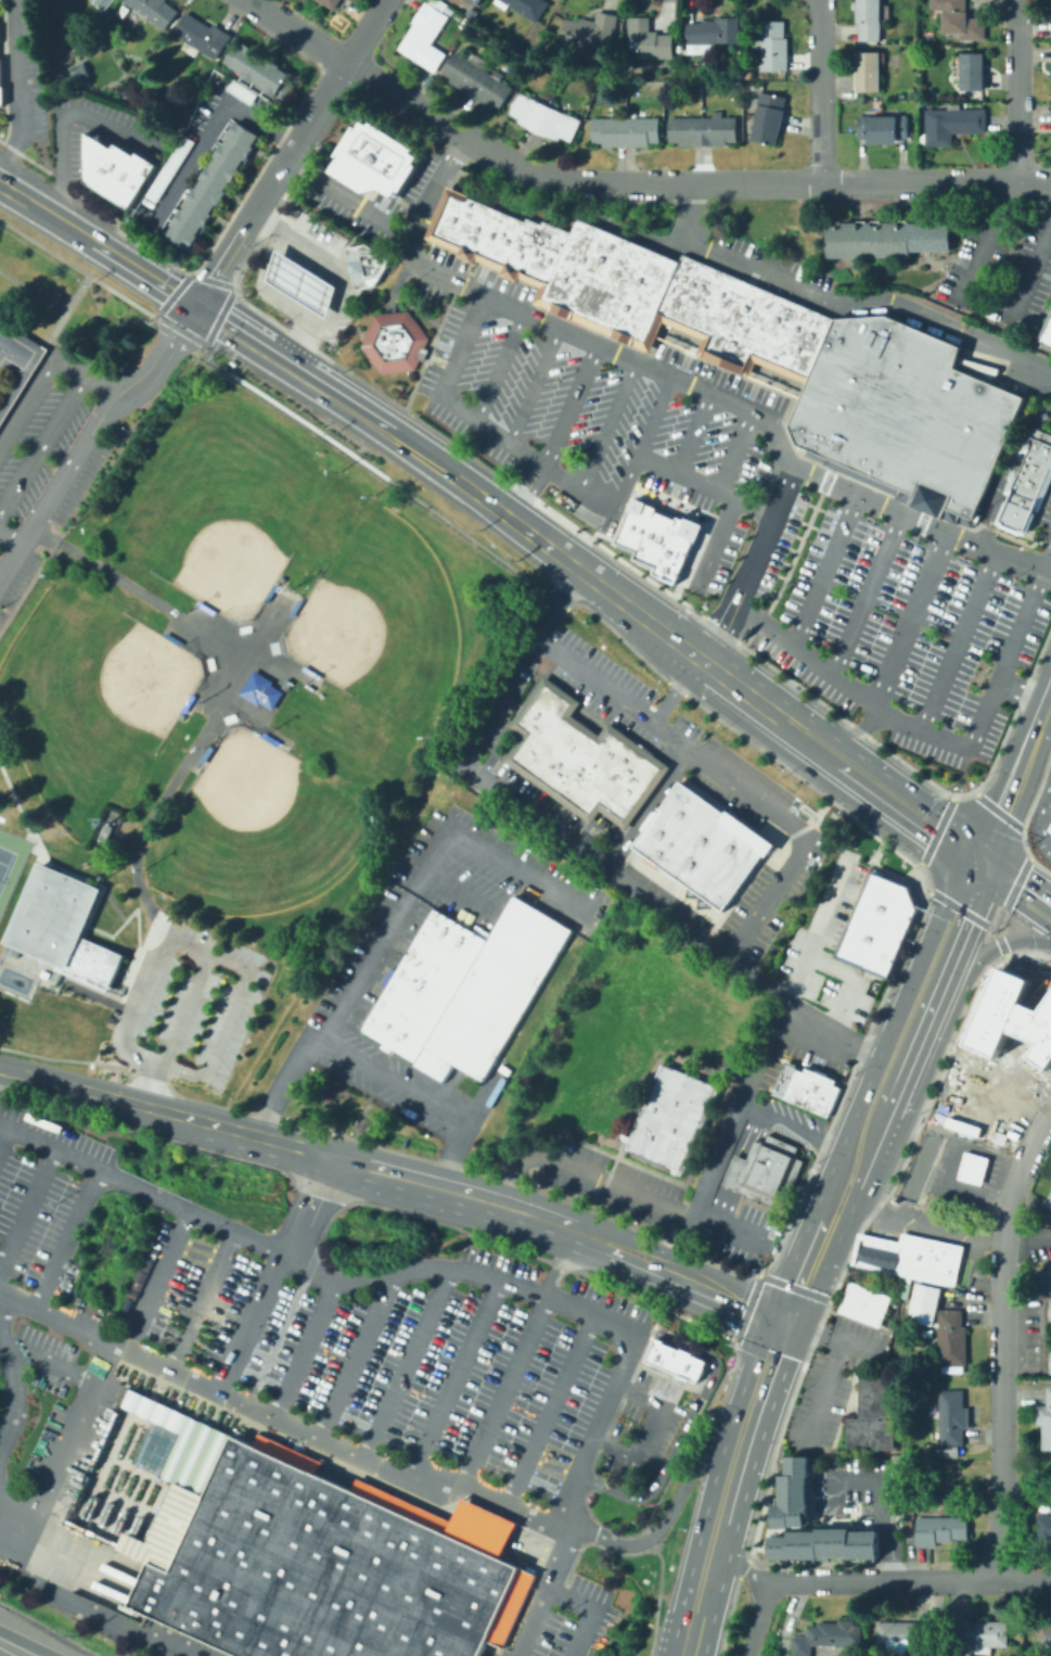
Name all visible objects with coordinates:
building: (112, 0)
building: (478, 1)
building: (101, 2)
building: (333, 3)
building: (528, 7)
building: (151, 10)
building: (1050, 18)
building: (871, 21)
building: (963, 22)
road: (296, 29)
road: (364, 29)
building: (593, 31)
building: (716, 31)
building: (200, 36)
building: (427, 36)
building: (651, 40)
building: (776, 47)
parking lot: (25, 68)
building: (259, 69)
building: (76, 71)
building: (869, 72)
building: (975, 72)
building: (1050, 76)
building: (479, 80)
road: (17, 84)
building: (240, 89)
road: (819, 90)
road: (1016, 90)
building: (1, 92)
road: (59, 113)
building: (546, 116)
building: (1050, 118)
building: (770, 119)
building: (954, 126)
building: (884, 129)
building: (629, 131)
building: (704, 131)
road: (208, 132)
parking lot: (146, 144)
building: (372, 156)
road: (513, 164)
building: (168, 167)
building: (115, 169)
road: (879, 181)
road: (271, 183)
building: (210, 184)
road: (5, 188)
road: (347, 198)
building: (445, 215)
road: (51, 217)
building: (461, 221)
building: (474, 230)
building: (490, 234)
building: (884, 237)
building: (505, 240)
road: (664, 245)
building: (520, 247)
building: (537, 250)
building: (552, 254)
building: (364, 263)
road: (282, 266)
parking lot: (1001, 267)
building: (568, 268)
parking lot: (771, 270)
road: (144, 275)
road: (90, 276)
building: (300, 280)
gas station: (300, 280)
road: (306, 282)
building: (677, 286)
building: (624, 289)
road: (31, 290)
building: (694, 295)
building: (713, 302)
road: (841, 305)
traffic signals: (197, 307)
road: (64, 309)
road: (332, 319)
building: (738, 324)
building: (773, 328)
building: (1047, 331)
road: (302, 337)
building: (793, 337)
building: (392, 340)
road: (274, 343)
building: (810, 344)
building: (13, 348)
road: (264, 361)
road: (47, 362)
road: (13, 366)
road: (499, 366)
building: (21, 369)
road: (21, 379)
road: (680, 380)
road: (533, 385)
building: (903, 413)
road: (367, 417)
road: (479, 424)
road: (603, 426)
road: (693, 429)
road: (555, 432)
road: (90, 434)
road: (639, 444)
road: (43, 445)
road: (733, 446)
road: (436, 466)
road: (1008, 470)
parking lot: (43, 474)
road: (707, 479)
building: (1026, 482)
parking lot: (732, 496)
park: (218, 514)
building: (637, 517)
road: (11, 535)
building: (663, 535)
road: (764, 537)
road: (728, 540)
building: (688, 546)
road: (794, 555)
road: (574, 566)
road: (822, 571)
building: (278, 577)
building: (268, 591)
road: (864, 595)
building: (203, 607)
building: (293, 607)
road: (907, 619)
park: (380, 620)
road: (717, 633)
building: (169, 637)
road: (958, 640)
road: (691, 651)
building: (309, 671)
building: (284, 683)
building: (258, 688)
road: (226, 689)
road: (676, 689)
road: (743, 690)
road: (1024, 691)
road: (779, 696)
park: (88, 700)
building: (185, 702)
building: (178, 715)
building: (538, 718)
road: (861, 729)
road: (936, 736)
building: (269, 738)
road: (800, 746)
building: (552, 747)
building: (203, 753)
building: (571, 761)
road: (1017, 764)
building: (594, 765)
road: (882, 772)
road: (726, 774)
building: (624, 785)
road: (1050, 787)
parking lot: (744, 790)
road: (962, 793)
road: (648, 806)
road: (997, 808)
road: (20, 811)
road: (534, 813)
road: (897, 816)
road: (1039, 817)
parking lot: (1042, 821)
building: (1049, 826)
building: (1050, 829)
park: (256, 830)
road: (935, 830)
road: (26, 836)
road: (1023, 842)
building: (701, 843)
traffic signals: (984, 845)
park: (4, 861)
traffic signals: (960, 863)
road: (984, 863)
road: (1040, 864)
road: (1016, 870)
road: (972, 871)
road: (89, 879)
traffic signals: (984, 880)
road: (1015, 881)
road: (1016, 904)
road: (953, 905)
road: (136, 910)
road: (394, 910)
road: (997, 917)
building: (876, 923)
road: (963, 925)
building: (59, 926)
road: (992, 928)
road: (819, 930)
traffic signals: (1036, 938)
road: (169, 942)
road: (996, 944)
road: (1000, 945)
road: (1028, 952)
road: (127, 973)
road: (40, 977)
road: (37, 978)
road: (123, 978)
road: (60, 979)
parking lot: (356, 983)
road: (847, 984)
building: (465, 988)
road: (124, 989)
parking lot: (818, 989)
road: (98, 996)
parking lot: (194, 999)
road: (227, 1023)
road: (890, 1026)
building: (1012, 1027)
road: (830, 1033)
road: (920, 1040)
road: (848, 1073)
building: (783, 1079)
road: (153, 1084)
road: (949, 1087)
building: (811, 1088)
road: (419, 1095)
parking lot: (989, 1103)
building: (656, 1112)
parking lot: (787, 1119)
building: (685, 1123)
road: (733, 1125)
road: (792, 1125)
road: (2, 1134)
road: (753, 1135)
road: (912, 1136)
road: (273, 1138)
road: (870, 1159)
building: (972, 1165)
building: (766, 1169)
road: (738, 1171)
parking lot: (597, 1177)
parking lot: (969, 1180)
road: (944, 1183)
road: (615, 1184)
building: (1048, 1198)
road: (309, 1205)
road: (722, 1206)
road: (26, 1208)
road: (925, 1225)
parking lot: (740, 1234)
parking lot: (940, 1236)
road: (65, 1238)
parking lot: (1034, 1244)
road: (662, 1247)
building: (863, 1248)
building: (884, 1252)
road: (793, 1256)
building: (926, 1257)
road: (565, 1263)
road: (822, 1268)
road: (651, 1274)
road: (759, 1274)
road: (477, 1276)
road: (156, 1279)
building: (1042, 1282)
traffic signals: (777, 1296)
road: (201, 1300)
building: (925, 1303)
building: (866, 1304)
building: (1049, 1309)
road: (770, 1310)
road: (787, 1311)
road: (249, 1322)
traffic signals: (765, 1324)
road: (781, 1325)
traffic signals: (798, 1327)
road: (815, 1330)
parking lot: (310, 1332)
road: (822, 1335)
road: (999, 1337)
parking lot: (1029, 1337)
building: (951, 1338)
road: (860, 1348)
road: (305, 1349)
road: (350, 1355)
building: (674, 1358)
building: (1049, 1361)
road: (406, 1364)
road: (51, 1367)
parking lot: (832, 1381)
road: (454, 1383)
road: (502, 1391)
road: (14, 1392)
road: (825, 1394)
road: (550, 1411)
building: (873, 1416)
building: (952, 1417)
building: (1046, 1421)
road: (281, 1422)
road: (684, 1424)
road: (762, 1424)
road: (645, 1429)
road: (690, 1435)
road: (68, 1449)
building: (946, 1451)
road: (771, 1452)
road: (710, 1488)
parking lot: (859, 1490)
building: (790, 1494)
road: (880, 1498)
road: (666, 1515)
building: (1043, 1527)
building: (937, 1528)
road: (646, 1538)
building: (823, 1542)
building: (310, 1553)
road: (742, 1568)
road: (745, 1570)
road: (849, 1580)
road: (989, 1580)
road: (717, 1590)
road: (655, 1598)
road: (594, 1606)
road: (88, 1608)
road: (727, 1616)
road: (757, 1617)
parking lot: (576, 1620)
building: (828, 1635)
building: (1043, 1635)
building: (978, 1636)
building: (905, 1638)
road: (28, 1642)

